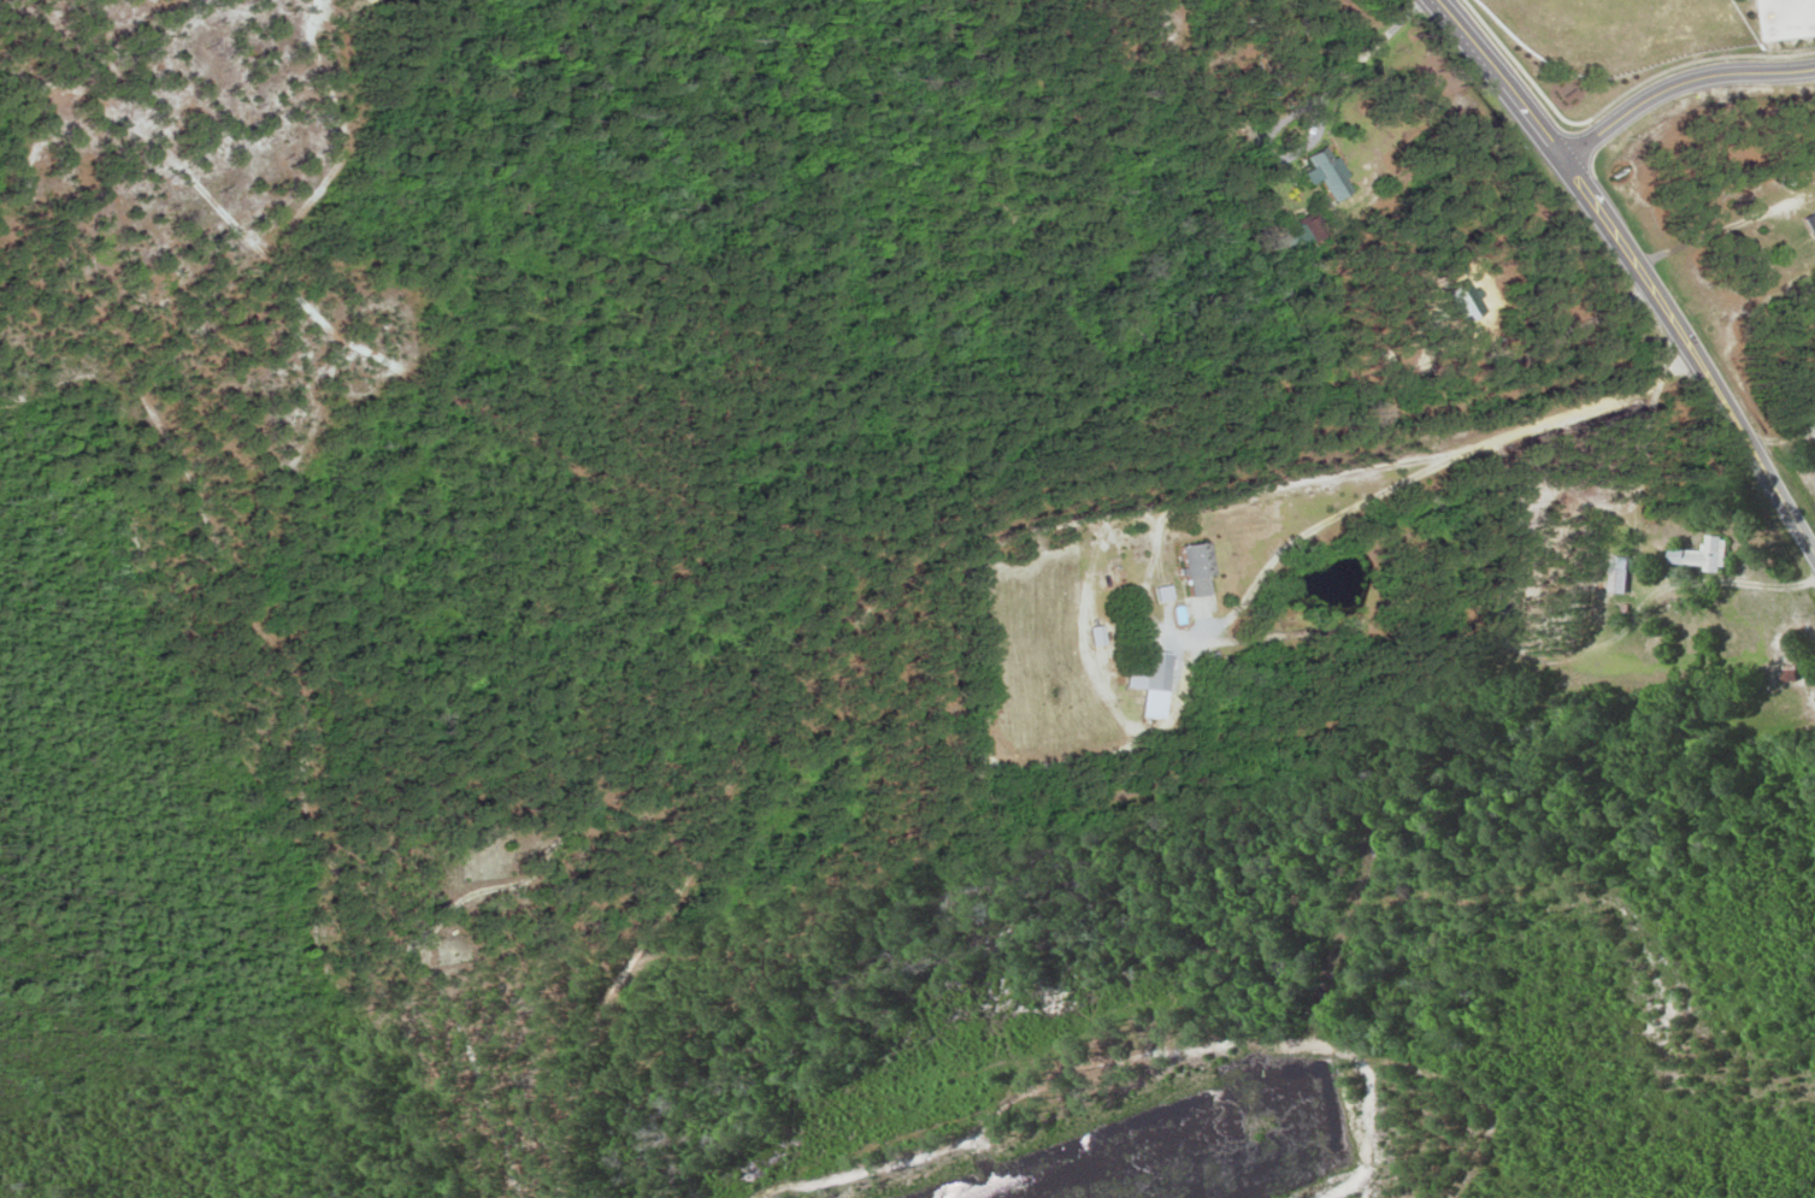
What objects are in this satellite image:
road: (1498, 81)
road: (1676, 85)
building: (1325, 177)
building: (1813, 219)
building: (1314, 228)
road: (1689, 359)
road: (966, 535)
building: (1699, 555)
building: (1198, 570)
building: (1620, 574)
road: (316, 614)
building: (1157, 671)
park: (453, 949)

